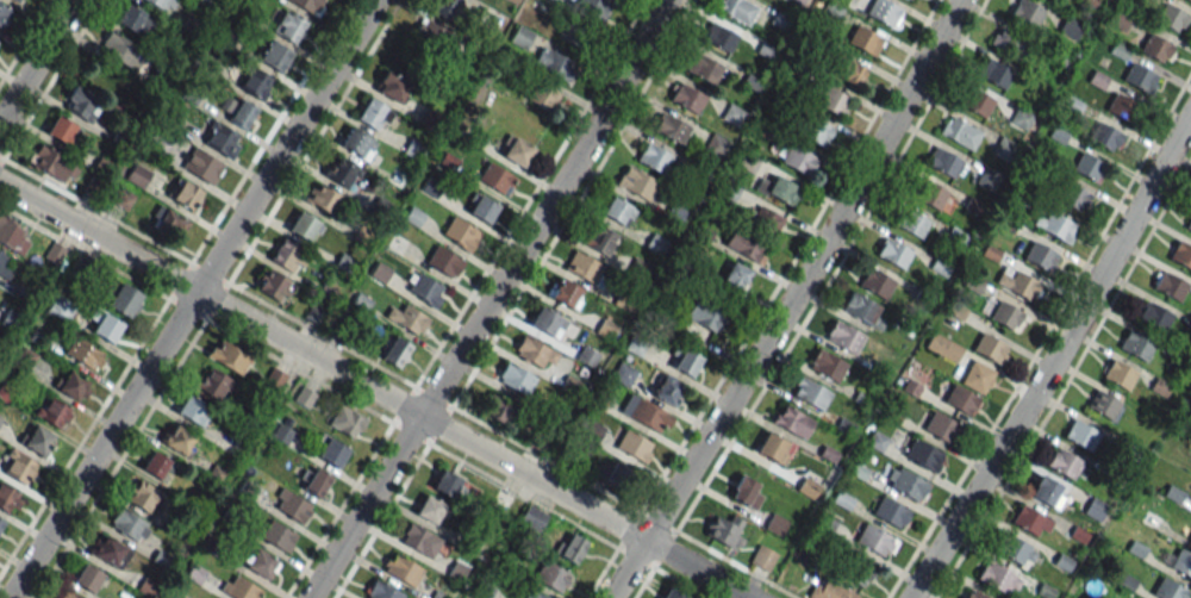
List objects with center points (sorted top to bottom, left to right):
building: (18, 0)
building: (1190, 0)
building: (513, 1)
building: (162, 4)
building: (304, 4)
building: (444, 7)
building: (591, 7)
building: (737, 10)
building: (883, 12)
building: (1028, 12)
building: (4, 15)
building: (1120, 18)
building: (1171, 18)
building: (492, 19)
building: (135, 20)
building: (289, 27)
building: (1070, 29)
building: (428, 36)
building: (572, 36)
building: (522, 37)
building: (718, 37)
road: (25, 41)
building: (865, 41)
building: (1009, 42)
building: (1156, 49)
building: (121, 50)
building: (275, 54)
road: (36, 60)
building: (557, 66)
building: (704, 69)
building: (849, 70)
building: (993, 73)
building: (1139, 77)
road: (51, 79)
building: (255, 83)
building: (393, 86)
building: (542, 95)
building: (686, 96)
building: (833, 100)
building: (975, 101)
building: (80, 105)
building: (238, 111)
road: (875, 111)
building: (374, 114)
building: (671, 127)
building: (62, 131)
road: (269, 131)
building: (817, 131)
building: (959, 133)
building: (1105, 137)
building: (223, 139)
building: (357, 143)
building: (517, 151)
building: (654, 157)
building: (798, 158)
building: (45, 160)
road: (301, 161)
building: (942, 162)
building: (202, 166)
building: (1089, 167)
building: (341, 170)
building: (138, 174)
building: (497, 179)
building: (636, 182)
building: (781, 189)
road: (531, 194)
building: (187, 195)
building: (933, 195)
building: (320, 198)
building: (1074, 198)
building: (480, 207)
road: (94, 208)
building: (618, 211)
building: (766, 219)
building: (169, 223)
road: (561, 223)
building: (911, 223)
building: (1189, 224)
building: (305, 226)
building: (1056, 226)
building: (460, 232)
building: (12, 233)
building: (599, 238)
building: (744, 244)
building: (55, 253)
building: (892, 253)
building: (1180, 254)
building: (288, 256)
building: (1040, 256)
building: (444, 260)
building: (6, 267)
building: (581, 267)
road: (834, 267)
building: (735, 276)
building: (875, 282)
building: (1018, 284)
building: (275, 286)
building: (1170, 286)
building: (425, 289)
building: (565, 293)
building: (124, 299)
road: (192, 299)
road: (491, 300)
road: (788, 301)
building: (860, 309)
building: (1005, 314)
building: (1153, 314)
building: (703, 316)
building: (11, 319)
building: (407, 319)
building: (547, 322)
building: (106, 328)
road: (1042, 336)
building: (844, 337)
building: (1136, 344)
building: (943, 347)
building: (989, 348)
building: (394, 350)
building: (535, 353)
building: (83, 354)
building: (229, 356)
road: (1053, 357)
building: (685, 362)
building: (828, 366)
road: (727, 367)
building: (623, 373)
building: (1118, 374)
building: (977, 376)
building: (275, 378)
building: (517, 379)
road: (1067, 380)
building: (212, 382)
building: (74, 386)
building: (666, 388)
road: (373, 391)
building: (811, 394)
building: (304, 397)
building: (960, 399)
building: (1103, 404)
road: (450, 406)
building: (500, 410)
building: (193, 411)
building: (52, 412)
building: (646, 413)
road: (94, 417)
building: (345, 421)
building: (793, 422)
building: (940, 426)
building: (1080, 434)
building: (179, 440)
building: (38, 441)
building: (634, 446)
building: (773, 447)
building: (332, 451)
building: (922, 454)
building: (1064, 463)
building: (157, 465)
building: (18, 466)
building: (617, 478)
building: (316, 482)
building: (447, 484)
building: (906, 485)
building: (747, 491)
building: (1047, 492)
building: (143, 496)
building: (8, 499)
building: (501, 499)
building: (292, 505)
building: (430, 509)
building: (888, 511)
building: (531, 518)
building: (1030, 519)
building: (1, 523)
building: (129, 524)
building: (725, 530)
building: (276, 535)
building: (1189, 537)
building: (872, 538)
building: (420, 541)
building: (572, 548)
building: (1015, 549)
building: (111, 552)
building: (762, 557)
building: (1180, 562)
building: (261, 563)
road: (736, 563)
building: (853, 568)
building: (403, 571)
road: (665, 573)
building: (550, 575)
building: (87, 578)
building: (997, 578)
building: (241, 588)
building: (1168, 588)
building: (830, 590)
building: (386, 592)
building: (673, 593)
building: (68, 594)
building: (532, 594)
building: (973, 594)

